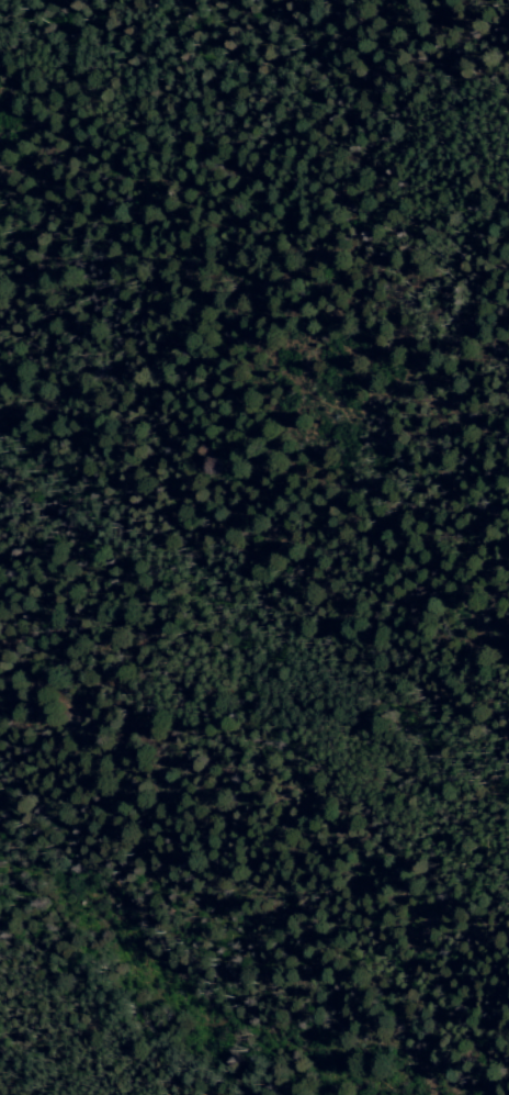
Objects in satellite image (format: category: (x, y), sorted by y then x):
road: (248, 774)

